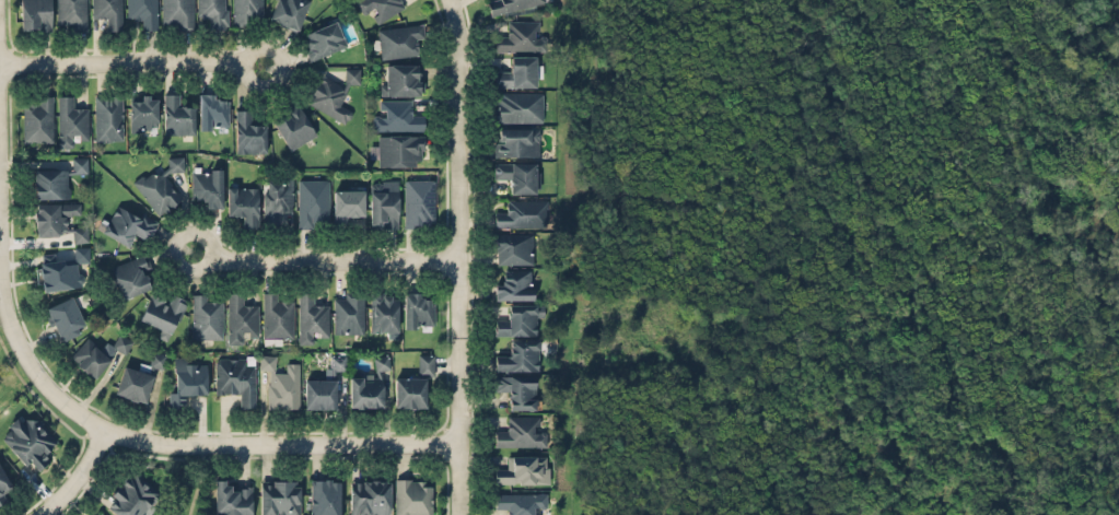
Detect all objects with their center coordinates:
building: (509, 4)
building: (380, 8)
building: (108, 12)
building: (142, 12)
building: (212, 12)
building: (247, 12)
building: (288, 12)
building: (72, 13)
building: (176, 13)
building: (35, 14)
building: (521, 35)
building: (323, 39)
building: (397, 39)
road: (131, 63)
building: (517, 70)
building: (351, 74)
building: (401, 78)
building: (329, 97)
building: (518, 106)
building: (212, 109)
building: (142, 112)
building: (177, 114)
building: (397, 115)
building: (108, 116)
building: (38, 118)
building: (70, 119)
building: (293, 125)
building: (248, 131)
building: (516, 141)
building: (398, 149)
building: (174, 163)
building: (80, 164)
building: (518, 175)
building: (50, 183)
building: (208, 186)
building: (158, 190)
building: (277, 199)
building: (312, 201)
building: (383, 202)
building: (419, 202)
building: (244, 204)
building: (346, 204)
building: (521, 213)
building: (54, 215)
building: (128, 223)
building: (80, 233)
building: (513, 248)
building: (81, 253)
road: (471, 256)
road: (458, 257)
park: (839, 257)
road: (324, 260)
building: (57, 270)
building: (132, 274)
building: (514, 284)
building: (418, 308)
building: (383, 311)
building: (162, 312)
building: (348, 312)
building: (206, 316)
building: (311, 316)
building: (65, 317)
building: (241, 317)
building: (276, 317)
building: (520, 318)
building: (121, 342)
building: (89, 355)
building: (517, 355)
building: (337, 361)
building: (382, 361)
building: (426, 363)
building: (138, 377)
building: (235, 378)
building: (187, 381)
building: (281, 382)
building: (365, 389)
building: (516, 389)
building: (409, 390)
building: (319, 393)
building: (520, 431)
building: (28, 440)
road: (102, 442)
road: (189, 444)
building: (523, 469)
road: (75, 476)
building: (3, 483)
building: (132, 494)
building: (324, 495)
building: (412, 495)
building: (279, 496)
building: (369, 496)
building: (231, 498)
building: (517, 503)
building: (95, 512)

